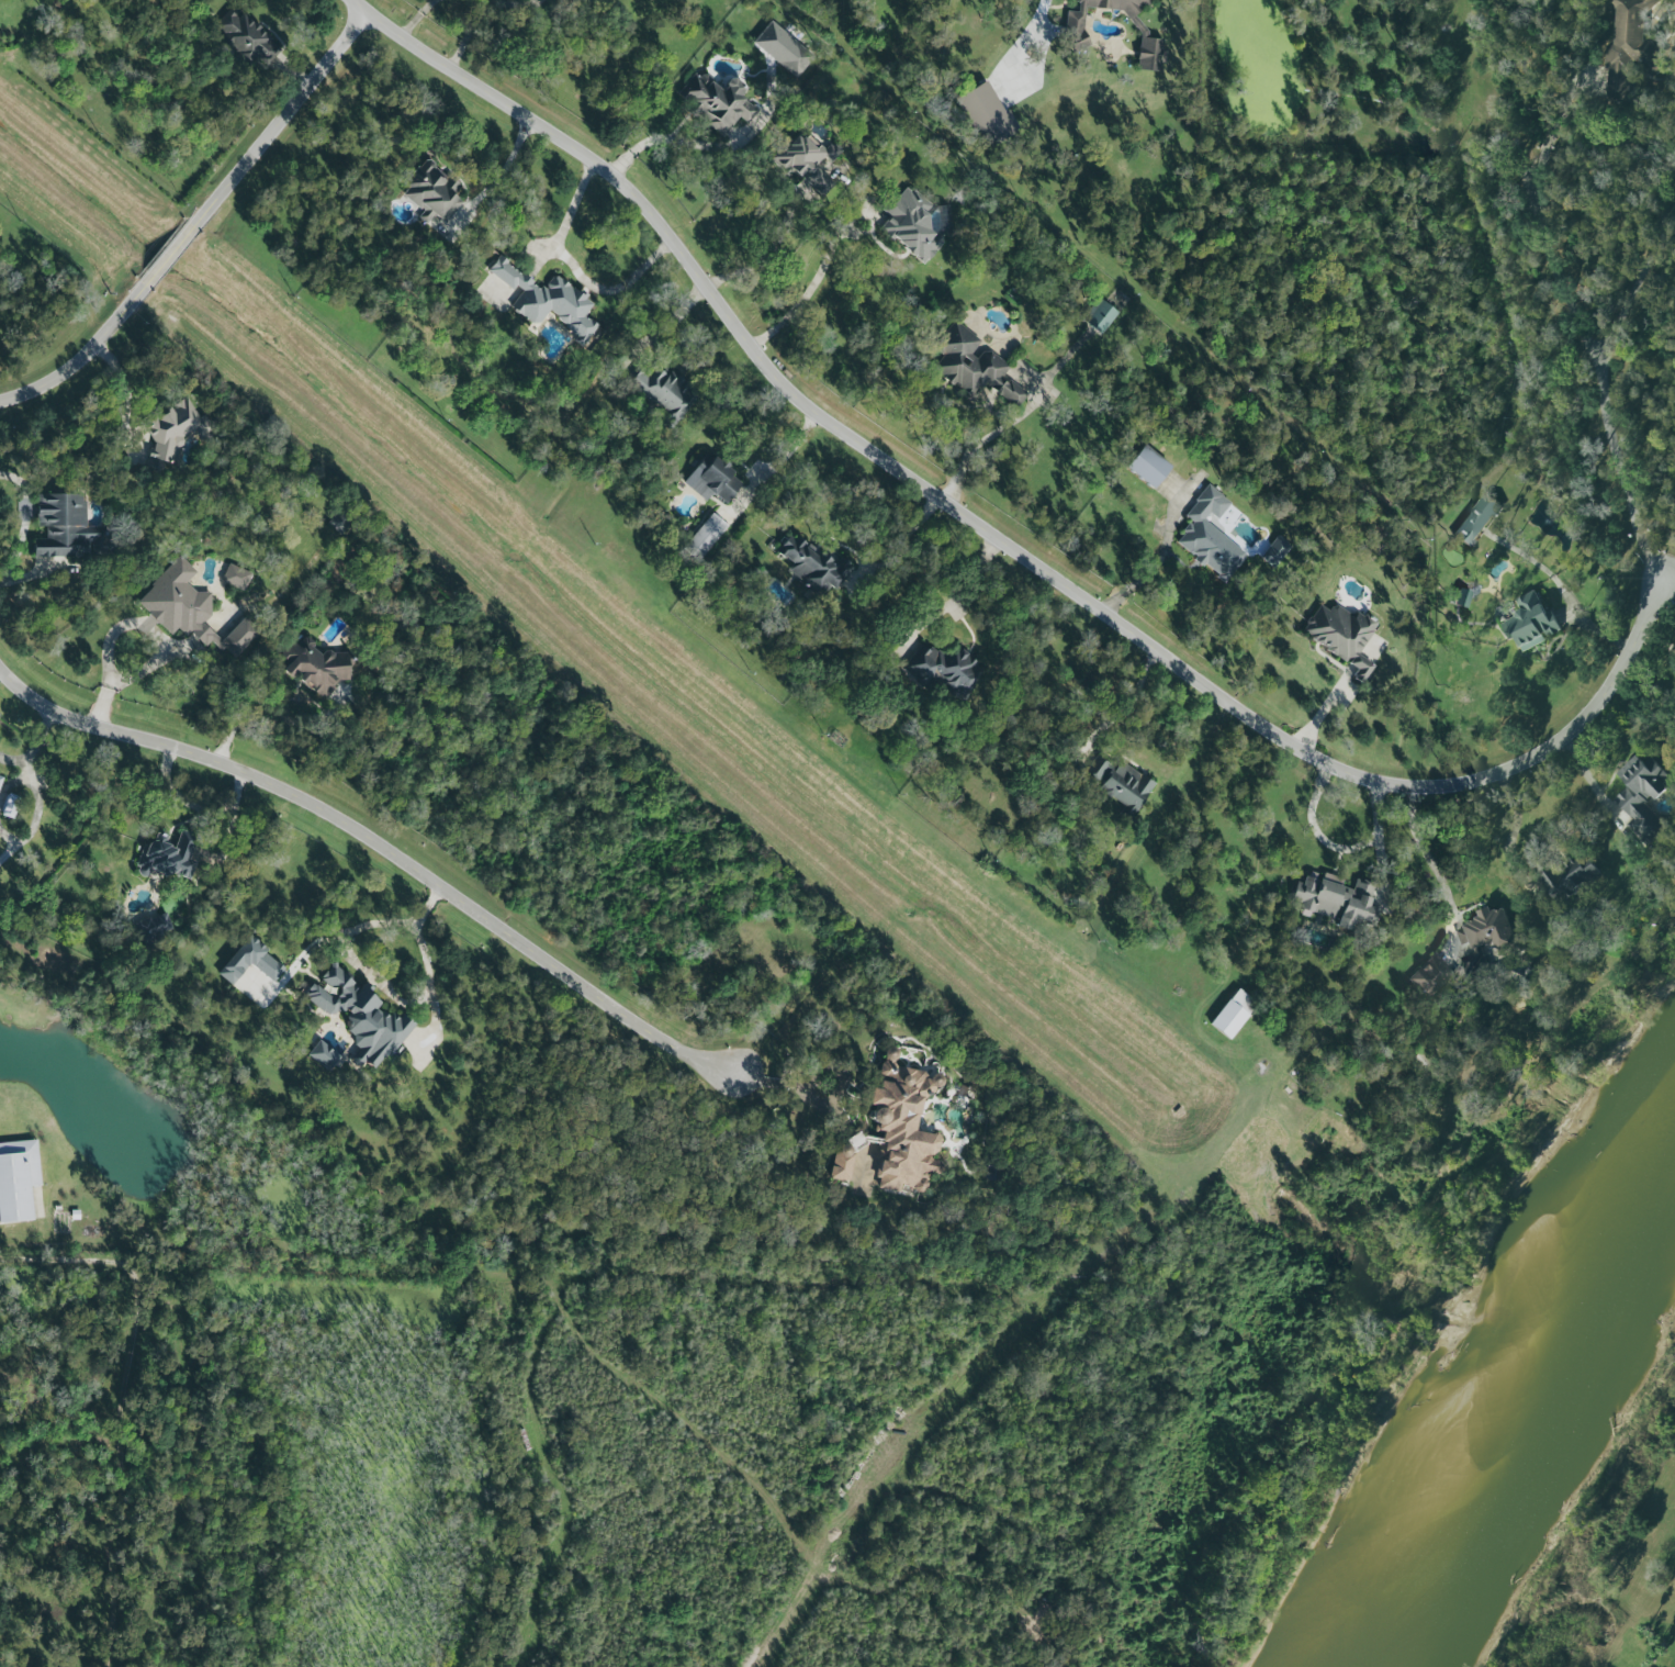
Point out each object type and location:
building: (1075, 33)
building: (247, 38)
building: (1630, 47)
building: (782, 49)
building: (717, 102)
building: (985, 114)
road: (668, 139)
building: (810, 160)
road: (503, 172)
building: (432, 191)
road: (202, 217)
building: (910, 223)
road: (767, 256)
road: (576, 268)
road: (811, 284)
building: (548, 300)
building: (1099, 315)
road: (670, 322)
road: (1587, 338)
building: (974, 366)
road: (125, 390)
building: (662, 390)
building: (175, 433)
road: (976, 445)
road: (778, 462)
building: (1147, 466)
building: (712, 480)
building: (1476, 521)
road: (26, 523)
building: (67, 528)
road: (902, 536)
building: (705, 537)
building: (1210, 538)
road: (997, 539)
building: (1275, 551)
building: (813, 566)
road: (1156, 566)
building: (235, 578)
road: (1668, 590)
road: (1562, 591)
road: (954, 595)
building: (190, 609)
building: (1531, 624)
road: (124, 625)
building: (1342, 637)
road: (1655, 642)
building: (313, 664)
building: (943, 670)
road: (1129, 701)
road: (270, 717)
road: (33, 745)
building: (1, 780)
road: (1590, 783)
building: (1126, 786)
building: (1643, 799)
building: (10, 806)
road: (194, 807)
road: (35, 814)
road: (1509, 833)
road: (389, 849)
building: (168, 857)
road: (1425, 857)
building: (1570, 877)
building: (1337, 900)
building: (155, 929)
building: (1491, 933)
building: (250, 962)
road: (360, 967)
building: (1430, 975)
building: (1233, 1014)
building: (360, 1015)
building: (323, 1055)
building: (1420, 1063)
building: (901, 1127)
building: (842, 1163)
building: (18, 1179)
river: (1500, 1379)

